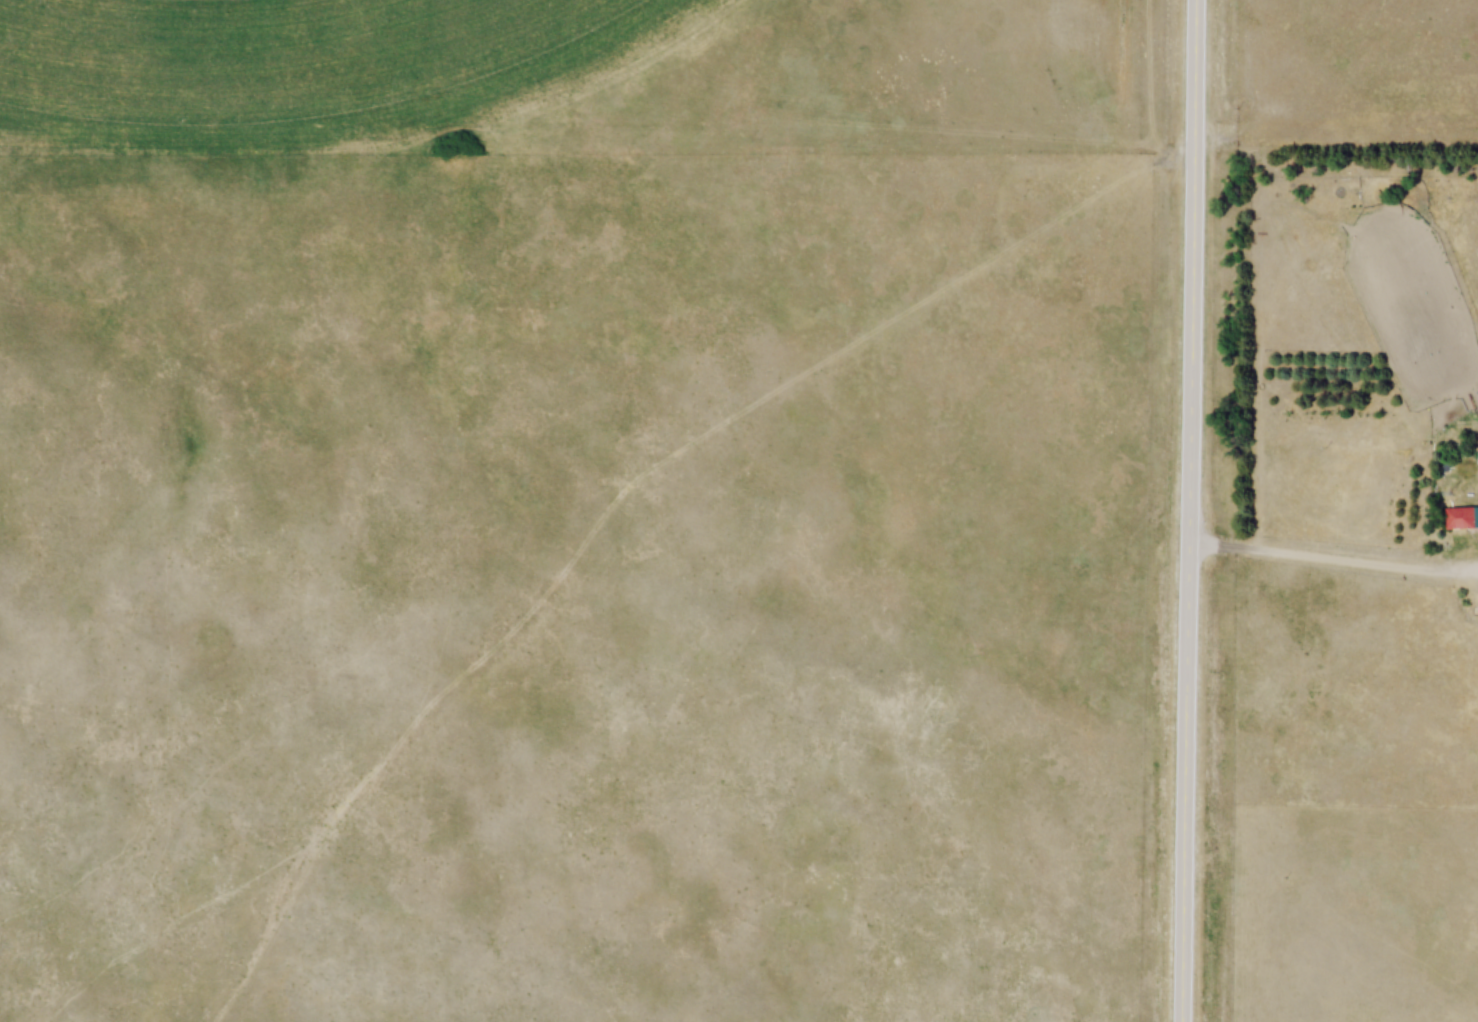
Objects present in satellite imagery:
building: (1427, 422)
road: (1187, 511)
building: (1461, 519)
road: (1332, 567)

